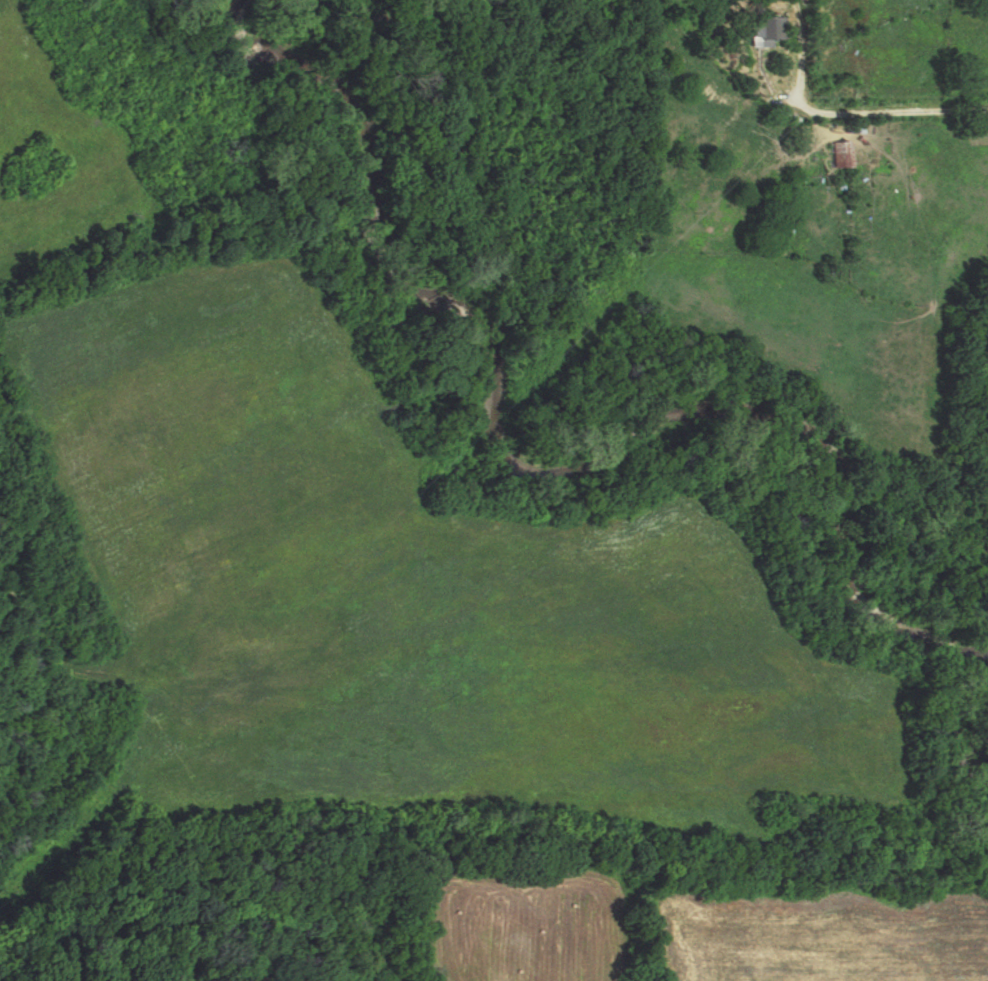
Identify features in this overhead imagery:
building: (761, 29)
road: (796, 81)
road: (919, 115)
building: (847, 126)
building: (835, 154)

